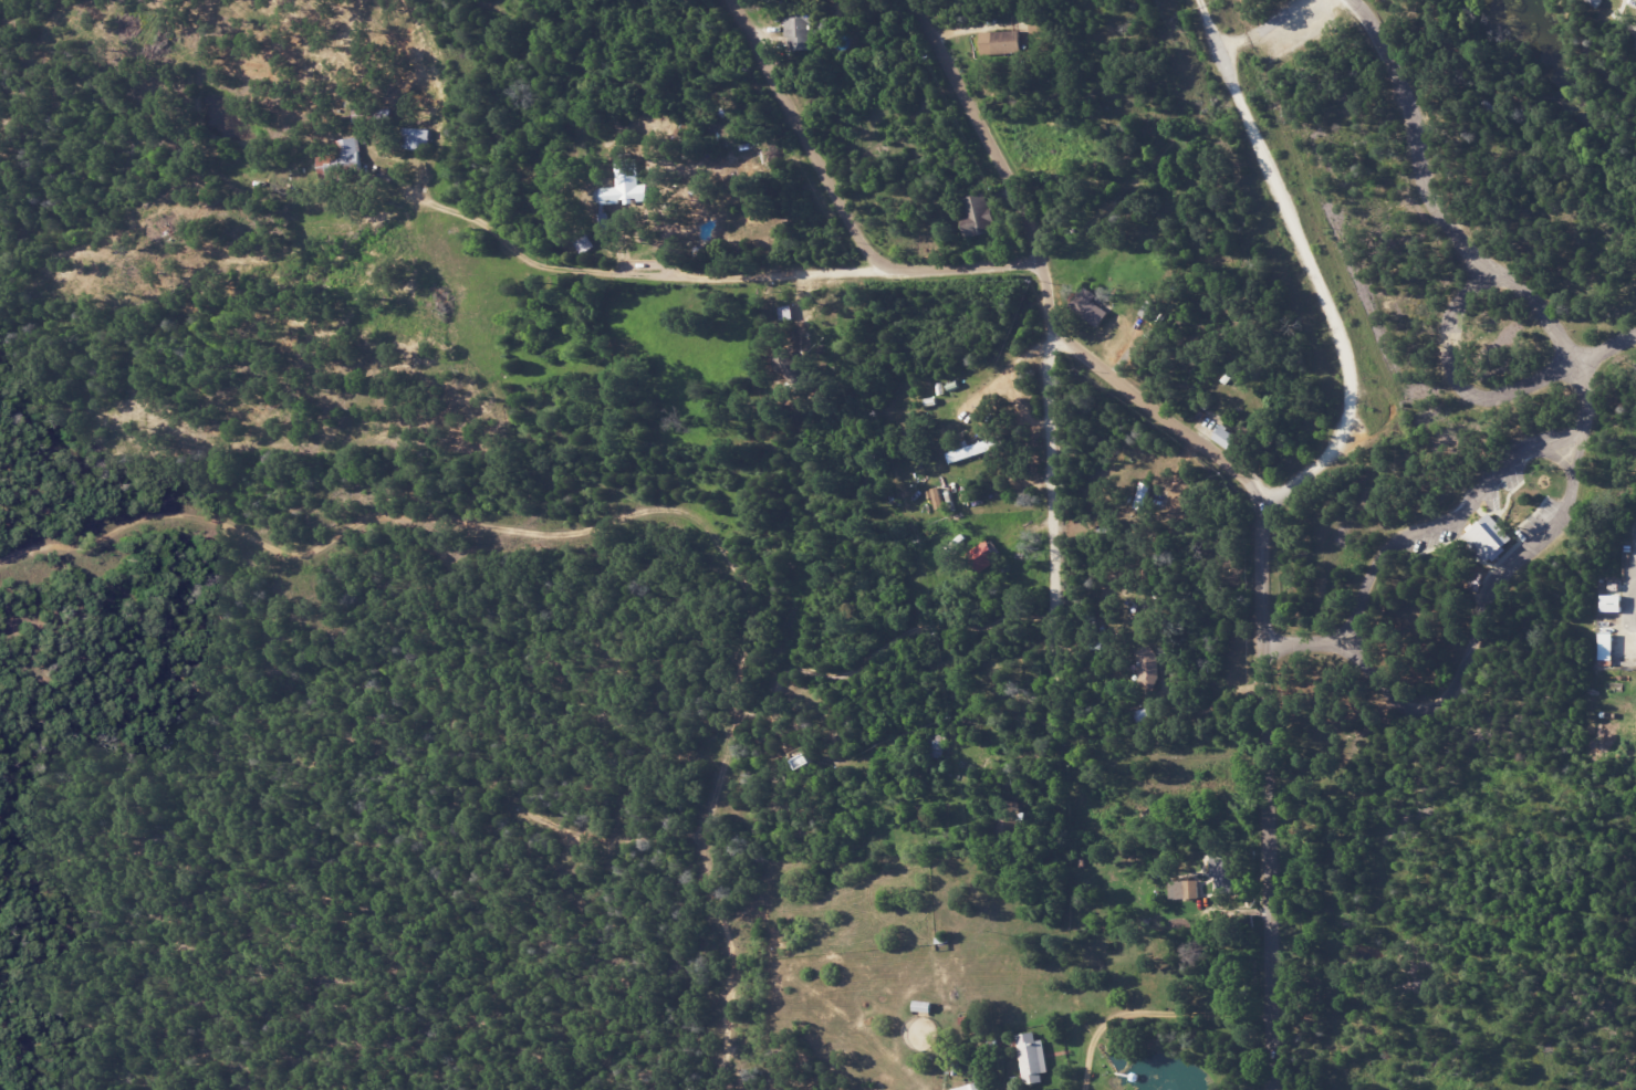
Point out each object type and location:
road: (1213, 31)
building: (798, 32)
road: (1280, 35)
building: (999, 42)
building: (415, 139)
road: (1416, 145)
road: (809, 146)
building: (344, 157)
building: (619, 190)
building: (976, 214)
road: (525, 261)
road: (977, 264)
road: (785, 272)
road: (1048, 294)
road: (1478, 295)
building: (1090, 307)
building: (1149, 311)
road: (1472, 403)
building: (1226, 437)
building: (975, 449)
road: (1054, 488)
road: (625, 530)
road: (1447, 535)
building: (1488, 538)
road: (1261, 548)
building: (981, 556)
building: (1609, 602)
road: (1635, 616)
road: (1491, 619)
building: (1605, 649)
building: (1147, 665)
road: (1055, 689)
building: (1189, 889)
building: (1031, 1057)
building: (970, 1087)

